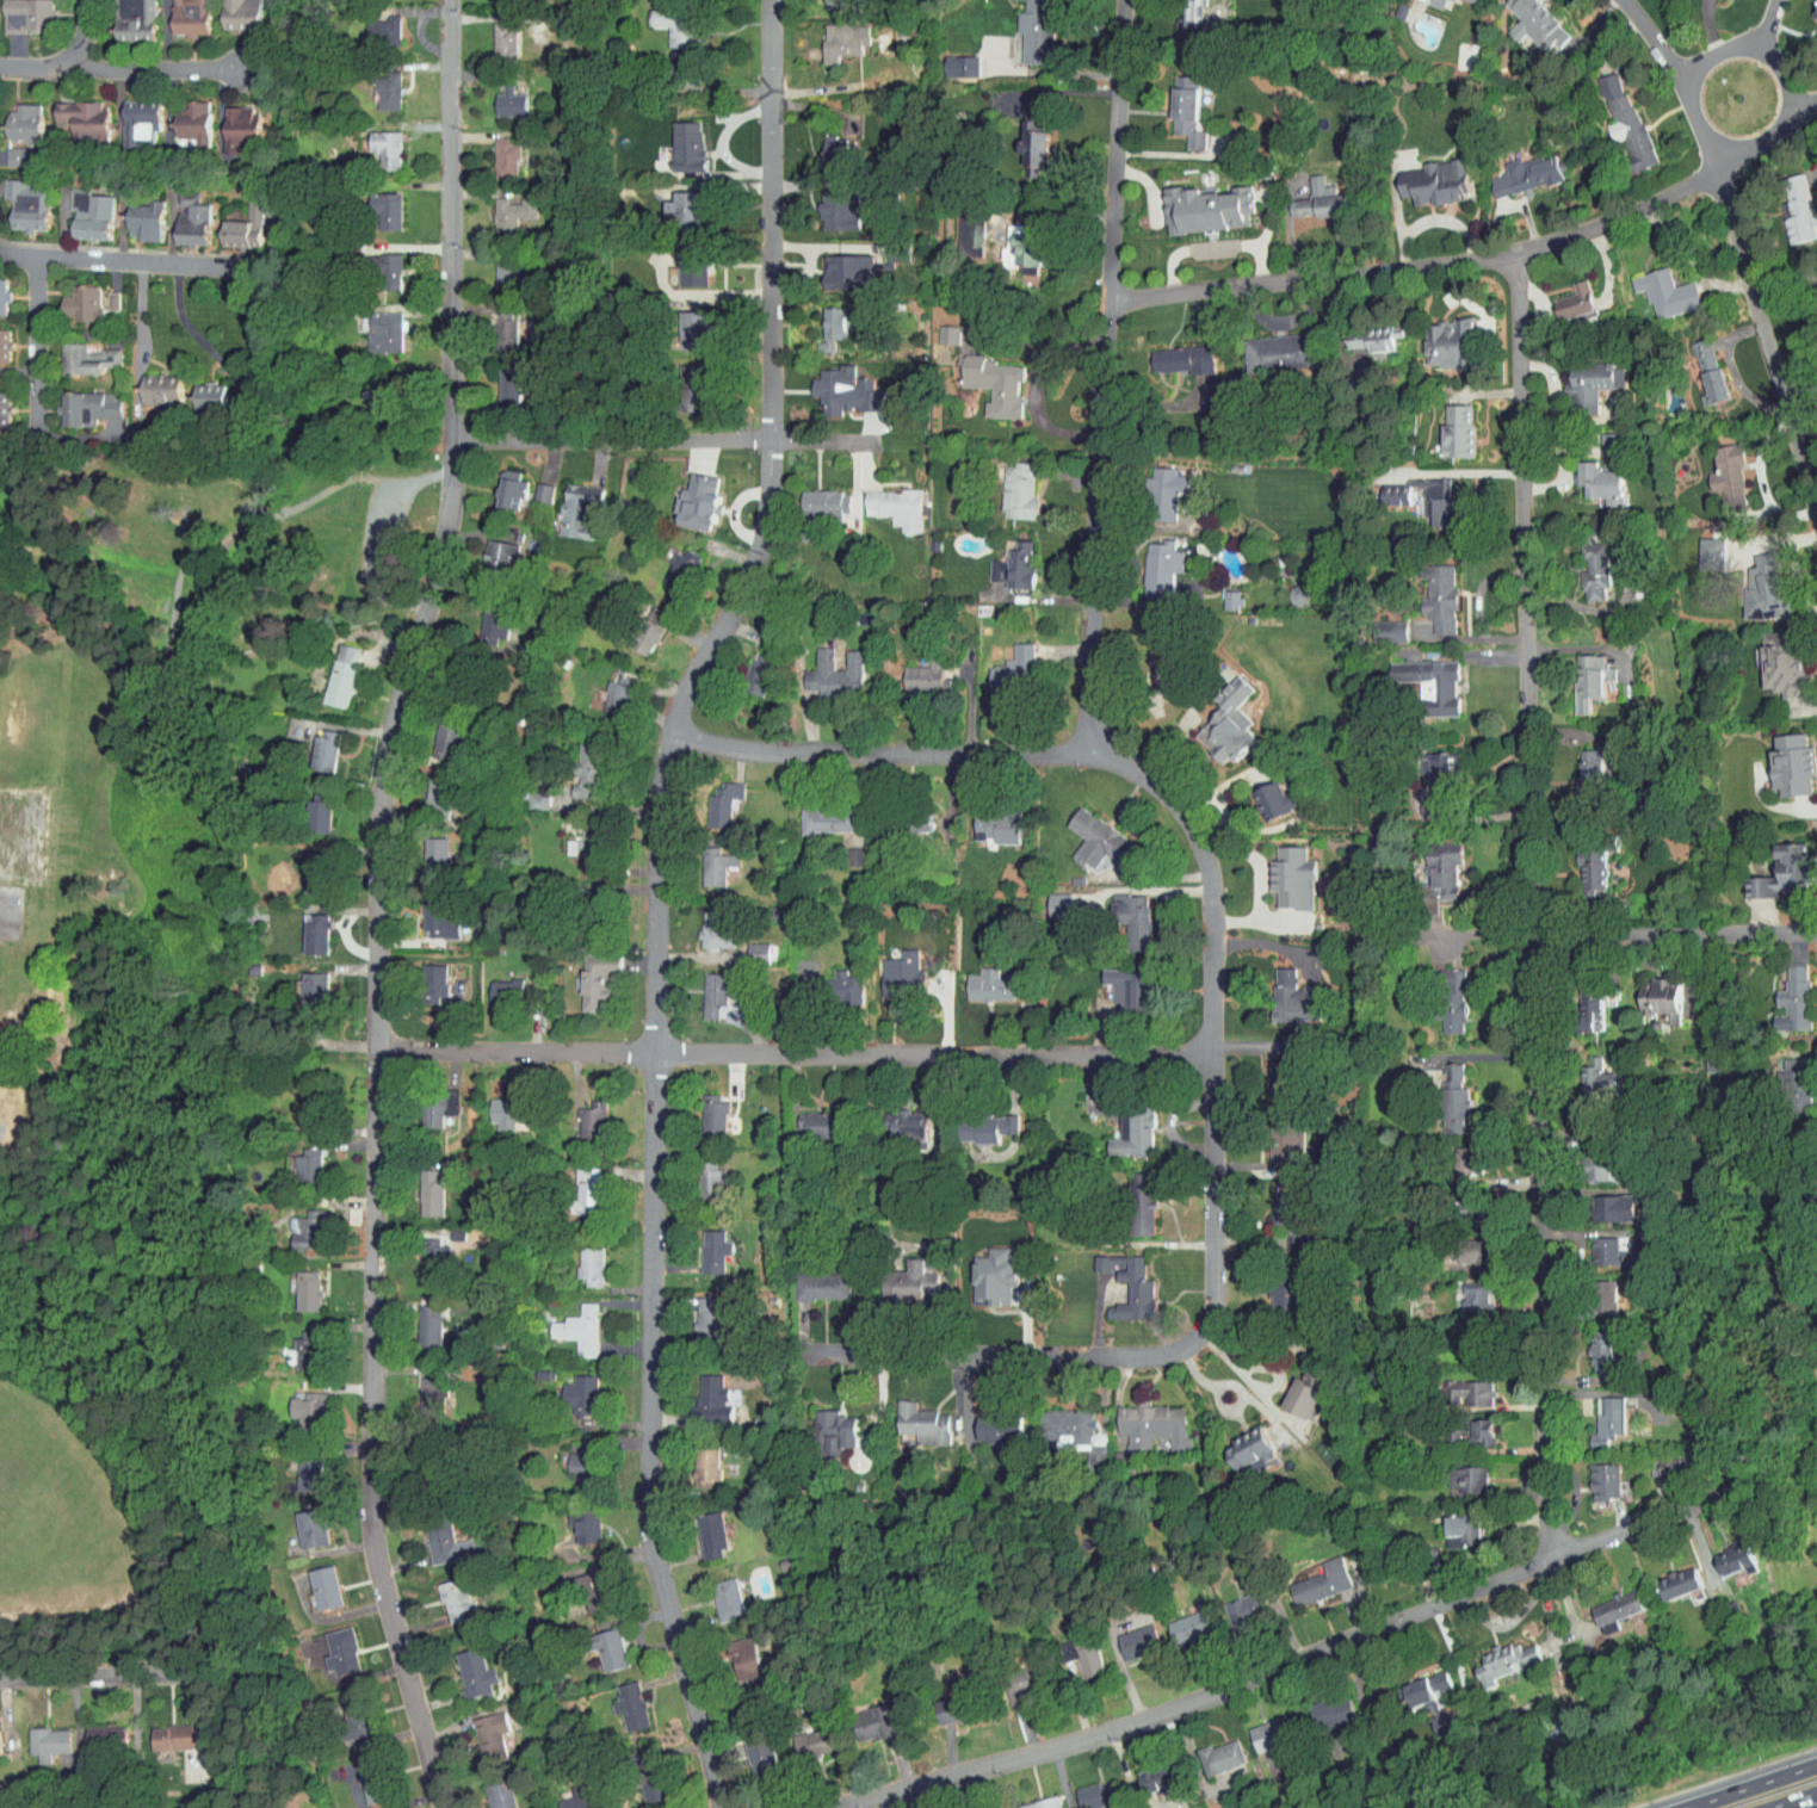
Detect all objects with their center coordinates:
building: (1428, 0)
building: (1810, 8)
building: (1179, 10)
building: (228, 11)
building: (18, 12)
building: (177, 12)
building: (120, 16)
road: (1766, 16)
building: (665, 18)
building: (1526, 21)
building: (371, 24)
road: (1707, 26)
building: (1025, 27)
building: (492, 30)
building: (832, 33)
road: (1716, 51)
road: (64, 58)
building: (950, 58)
road: (156, 67)
road: (1781, 72)
building: (376, 83)
building: (497, 94)
building: (1175, 103)
building: (70, 111)
building: (128, 113)
building: (1613, 113)
building: (181, 114)
building: (14, 116)
building: (230, 122)
building: (1021, 132)
building: (675, 138)
building: (372, 142)
building: (824, 145)
building: (8, 149)
building: (494, 149)
building: (1516, 167)
building: (1426, 175)
building: (1308, 194)
building: (672, 198)
building: (17, 199)
building: (1195, 202)
building: (827, 203)
building: (1786, 203)
building: (373, 204)
building: (501, 204)
building: (78, 208)
building: (132, 213)
building: (179, 213)
building: (233, 221)
building: (958, 227)
building: (1015, 243)
road: (1739, 247)
road: (1482, 255)
building: (680, 260)
road: (130, 262)
building: (376, 264)
building: (497, 265)
building: (835, 265)
building: (1656, 285)
building: (1816, 289)
building: (100, 293)
building: (1565, 293)
building: (70, 297)
building: (822, 321)
building: (682, 323)
building: (372, 324)
building: (494, 324)
building: (935, 327)
building: (1361, 332)
building: (1438, 336)
road: (39, 341)
road: (200, 341)
building: (1269, 345)
building: (74, 352)
building: (1173, 353)
building: (1698, 366)
road: (1731, 372)
road: (1107, 373)
building: (983, 377)
building: (1580, 377)
building: (495, 379)
building: (681, 380)
building: (148, 382)
building: (833, 384)
building: (367, 388)
road: (1034, 388)
building: (198, 390)
building: (75, 401)
building: (1447, 423)
road: (686, 440)
building: (1717, 470)
building: (1592, 476)
building: (499, 482)
building: (1007, 484)
building: (530, 485)
building: (1155, 485)
building: (1385, 487)
road: (1762, 487)
building: (686, 494)
building: (1427, 494)
building: (814, 496)
building: (884, 501)
building: (564, 503)
building: (1700, 547)
building: (487, 550)
building: (1008, 557)
building: (1149, 561)
building: (669, 563)
building: (1583, 564)
road: (1792, 569)
building: (1756, 582)
building: (1286, 587)
building: (1429, 592)
building: (1219, 593)
building: (482, 615)
building: (636, 629)
building: (1011, 648)
building: (1772, 655)
building: (1155, 664)
building: (823, 667)
building: (329, 668)
building: (746, 668)
building: (914, 670)
building: (1577, 674)
building: (989, 677)
building: (1420, 677)
building: (606, 687)
building: (1217, 717)
building: (434, 733)
building: (313, 744)
road: (880, 751)
building: (577, 755)
building: (1781, 757)
building: (1428, 760)
building: (427, 788)
building: (713, 792)
building: (526, 793)
building: (1262, 795)
building: (816, 813)
building: (909, 817)
building: (985, 819)
building: (1084, 832)
park: (23, 835)
building: (424, 841)
building: (705, 861)
building: (1433, 861)
building: (1581, 865)
building: (299, 866)
building: (1775, 866)
building: (1280, 872)
road: (1255, 887)
road: (659, 897)
building: (1047, 899)
road: (382, 904)
road: (1535, 904)
building: (1121, 912)
building: (428, 918)
building: (705, 923)
building: (304, 928)
road: (1601, 933)
building: (749, 945)
building: (888, 966)
building: (585, 973)
building: (422, 977)
building: (982, 979)
building: (835, 982)
building: (1118, 983)
building: (494, 985)
building: (704, 985)
building: (302, 987)
building: (1283, 991)
building: (1651, 993)
building: (1784, 993)
building: (1440, 995)
building: (1582, 1004)
park: (120, 1045)
road: (795, 1057)
building: (1587, 1070)
building: (1785, 1077)
building: (1444, 1092)
building: (298, 1095)
building: (495, 1104)
building: (702, 1106)
building: (420, 1108)
building: (580, 1114)
building: (806, 1117)
building: (896, 1119)
building: (975, 1121)
building: (1123, 1126)
building: (1275, 1143)
building: (1458, 1151)
building: (296, 1160)
building: (1586, 1160)
building: (699, 1175)
building: (574, 1184)
building: (418, 1185)
building: (1130, 1197)
building: (1461, 1201)
building: (1605, 1201)
road: (1213, 1209)
building: (1277, 1220)
building: (298, 1225)
building: (1595, 1244)
building: (703, 1245)
building: (1459, 1246)
building: (421, 1252)
building: (1089, 1257)
building: (577, 1259)
building: (982, 1270)
building: (901, 1273)
building: (810, 1280)
building: (296, 1284)
building: (1121, 1286)
building: (1465, 1288)
building: (1271, 1289)
building: (1596, 1289)
building: (694, 1313)
building: (418, 1319)
building: (568, 1324)
building: (295, 1344)
building: (1590, 1346)
road: (1253, 1386)
building: (419, 1388)
building: (568, 1389)
building: (1296, 1389)
building: (700, 1394)
building: (293, 1401)
building: (1596, 1413)
building: (911, 1417)
building: (1055, 1420)
building: (1139, 1423)
building: (823, 1424)
building: (989, 1426)
building: (1470, 1426)
building: (1238, 1443)
building: (571, 1455)
building: (1660, 1460)
building: (693, 1461)
building: (297, 1467)
building: (1456, 1470)
building: (1593, 1474)
park: (64, 1516)
building: (299, 1519)
building: (574, 1519)
building: (1452, 1522)
building: (699, 1528)
building: (432, 1536)
building: (1724, 1550)
building: (1310, 1574)
building: (1669, 1574)
building: (313, 1579)
building: (582, 1584)
building: (444, 1591)
building: (716, 1591)
building: (1235, 1602)
building: (1605, 1603)
building: (1178, 1618)
building: (1126, 1634)
building: (599, 1641)
building: (330, 1643)
building: (1070, 1647)
building: (733, 1648)
building: (1492, 1653)
building: (463, 1665)
road: (1275, 1670)
road: (88, 1677)
building: (1007, 1677)
building: (618, 1698)
building: (941, 1702)
building: (344, 1707)
building: (1321, 1707)
building: (864, 1715)
building: (1259, 1727)
building: (478, 1728)
building: (93, 1729)
building: (160, 1729)
building: (804, 1734)
building: (36, 1735)
building: (748, 1745)
building: (1210, 1748)
building: (638, 1769)
building: (360, 1770)
building: (1145, 1770)
road: (1751, 1787)
building: (1084, 1788)
building: (489, 1791)
building: (564, 1794)
building: (1030, 1800)
road: (1792, 1800)
building: (985, 1806)

